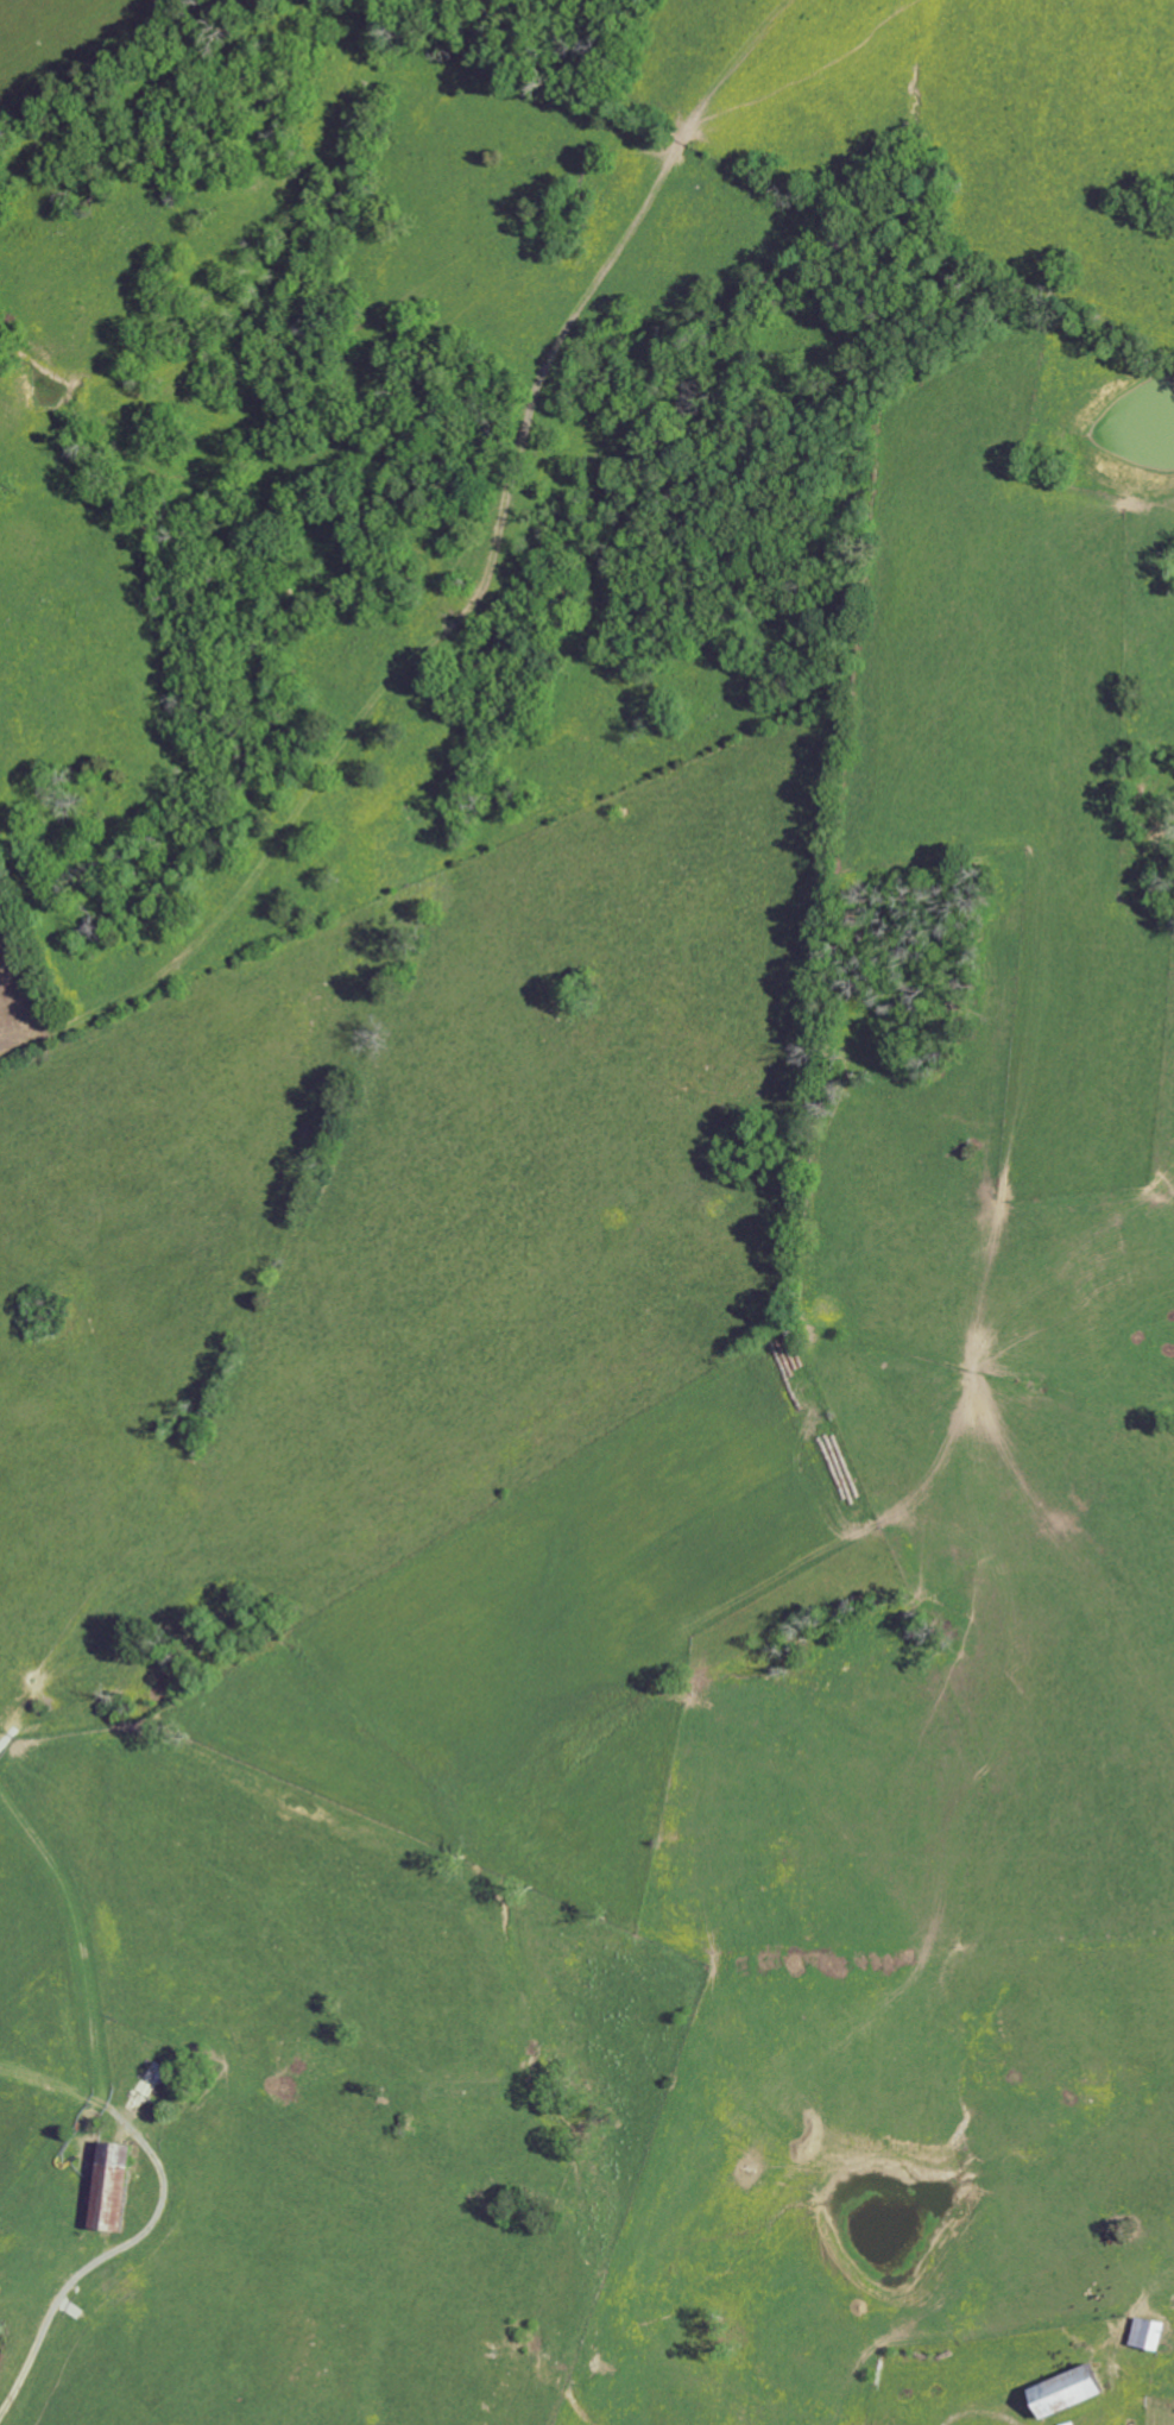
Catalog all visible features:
building: (111, 2187)
road: (82, 2268)
building: (1147, 2332)
building: (1066, 2389)
road: (947, 2415)

